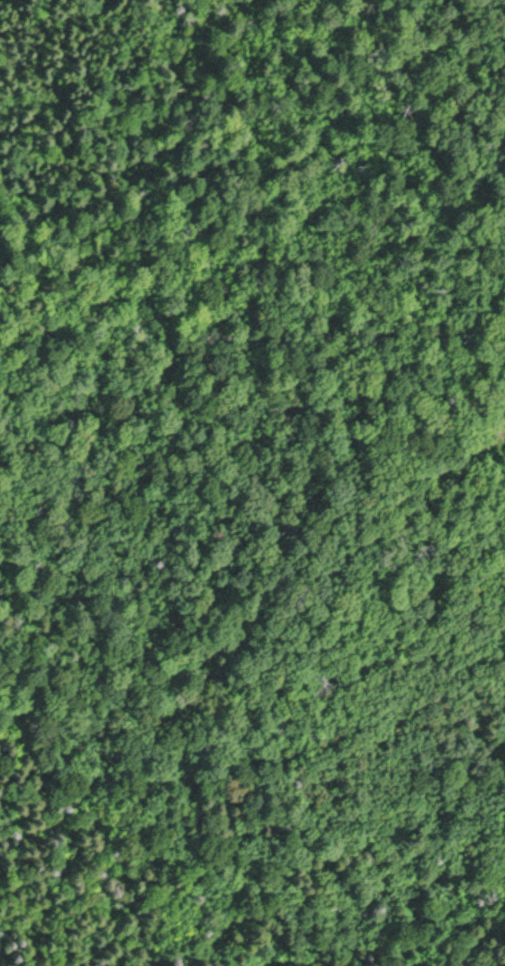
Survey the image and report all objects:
road: (254, 205)

